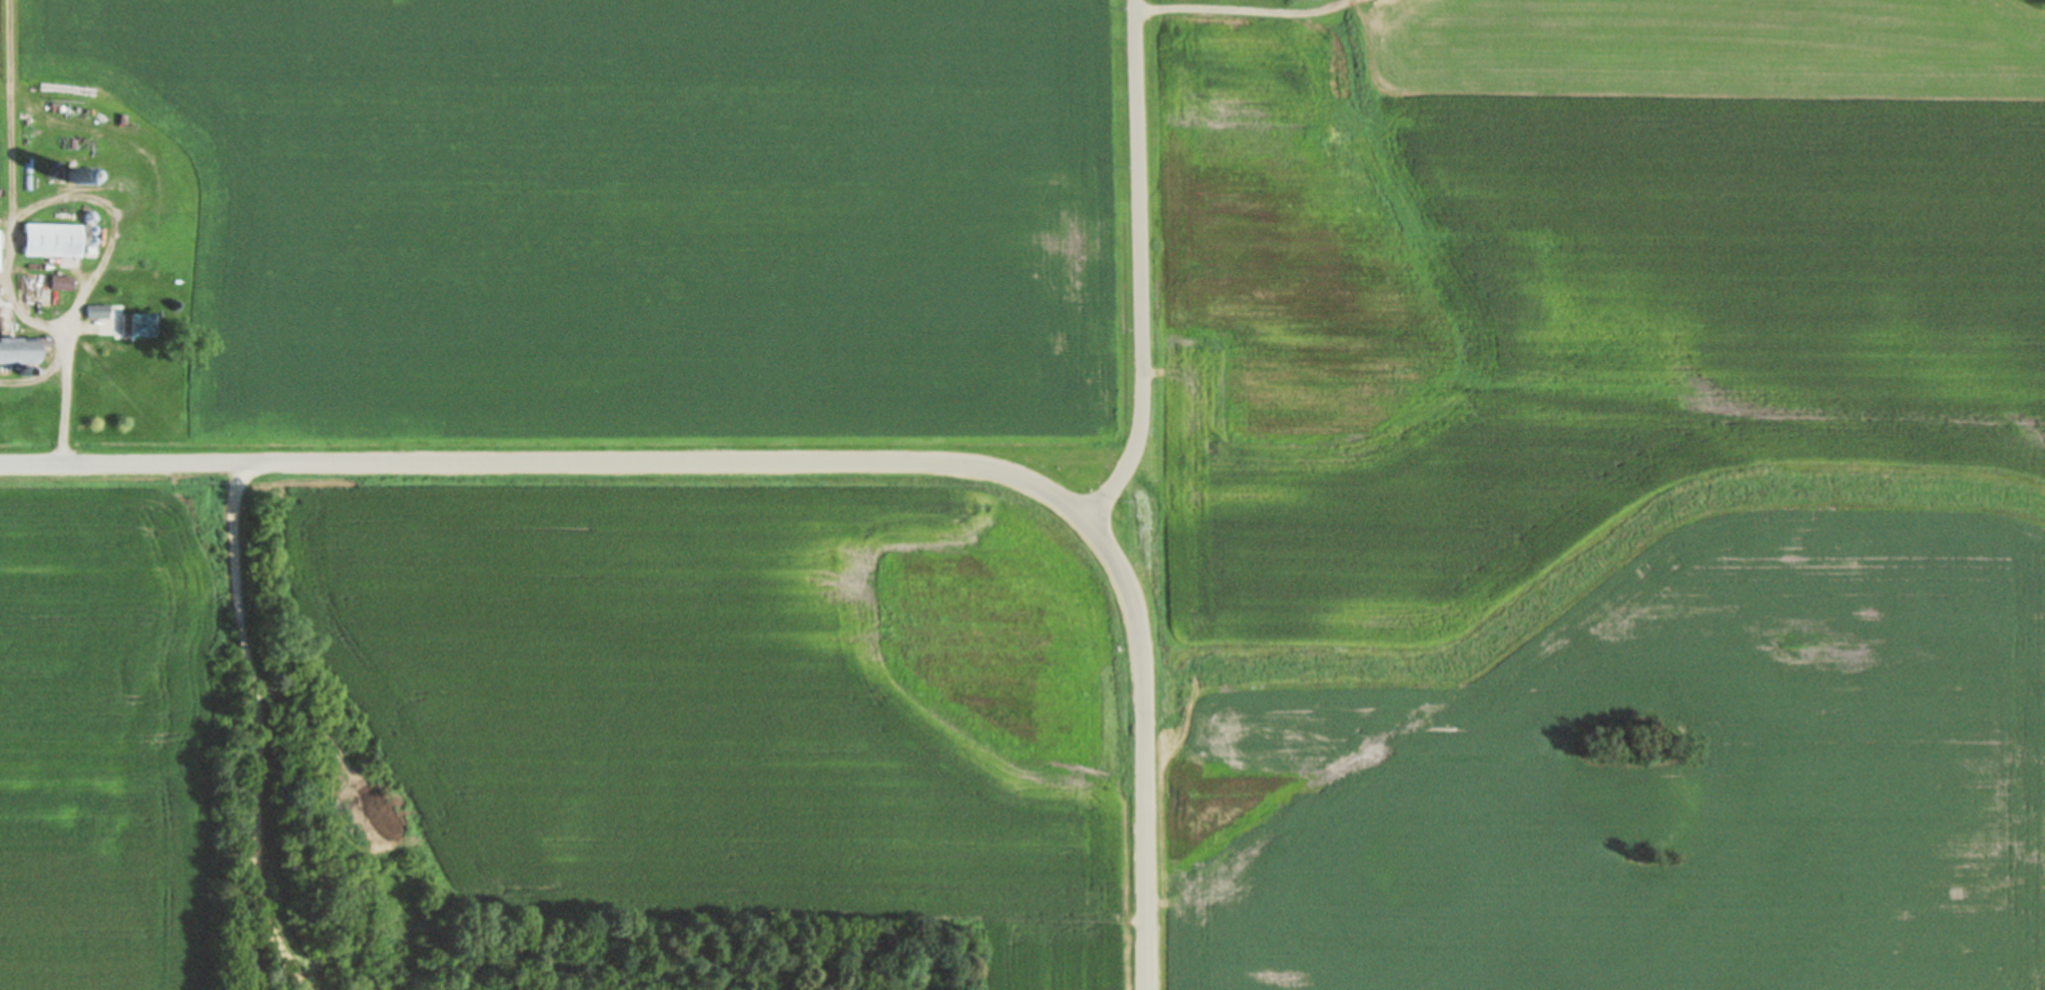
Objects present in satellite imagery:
road: (14, 185)
building: (51, 238)
road: (1141, 266)
building: (61, 282)
road: (92, 283)
building: (97, 311)
building: (137, 324)
building: (17, 350)
road: (793, 464)
road: (312, 725)
road: (261, 733)
quarry: (308, 801)
road: (1164, 907)
road: (1137, 924)

